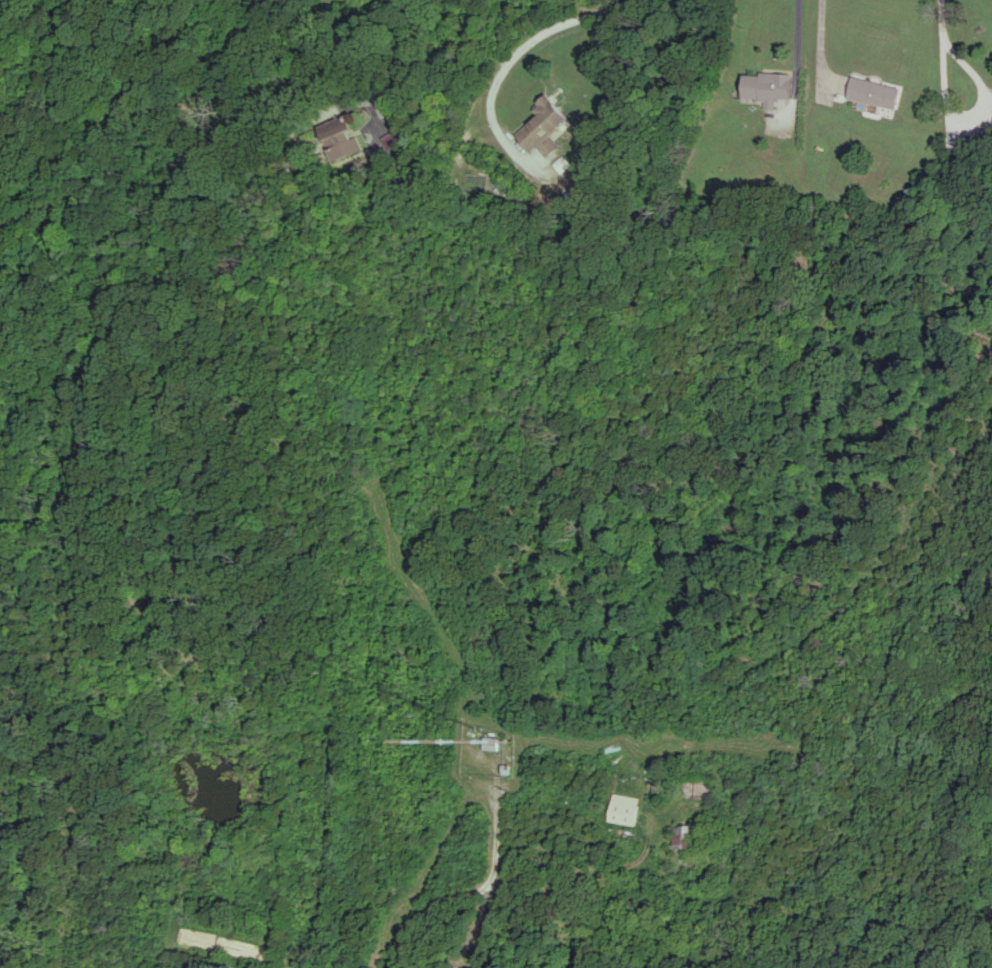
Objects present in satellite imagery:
road: (2, 3)
road: (942, 19)
road: (821, 47)
road: (519, 51)
road: (797, 55)
road: (405, 56)
building: (764, 87)
building: (875, 92)
road: (976, 122)
building: (543, 126)
building: (337, 138)
building: (623, 809)
road: (497, 810)
building: (686, 836)
road: (473, 892)

